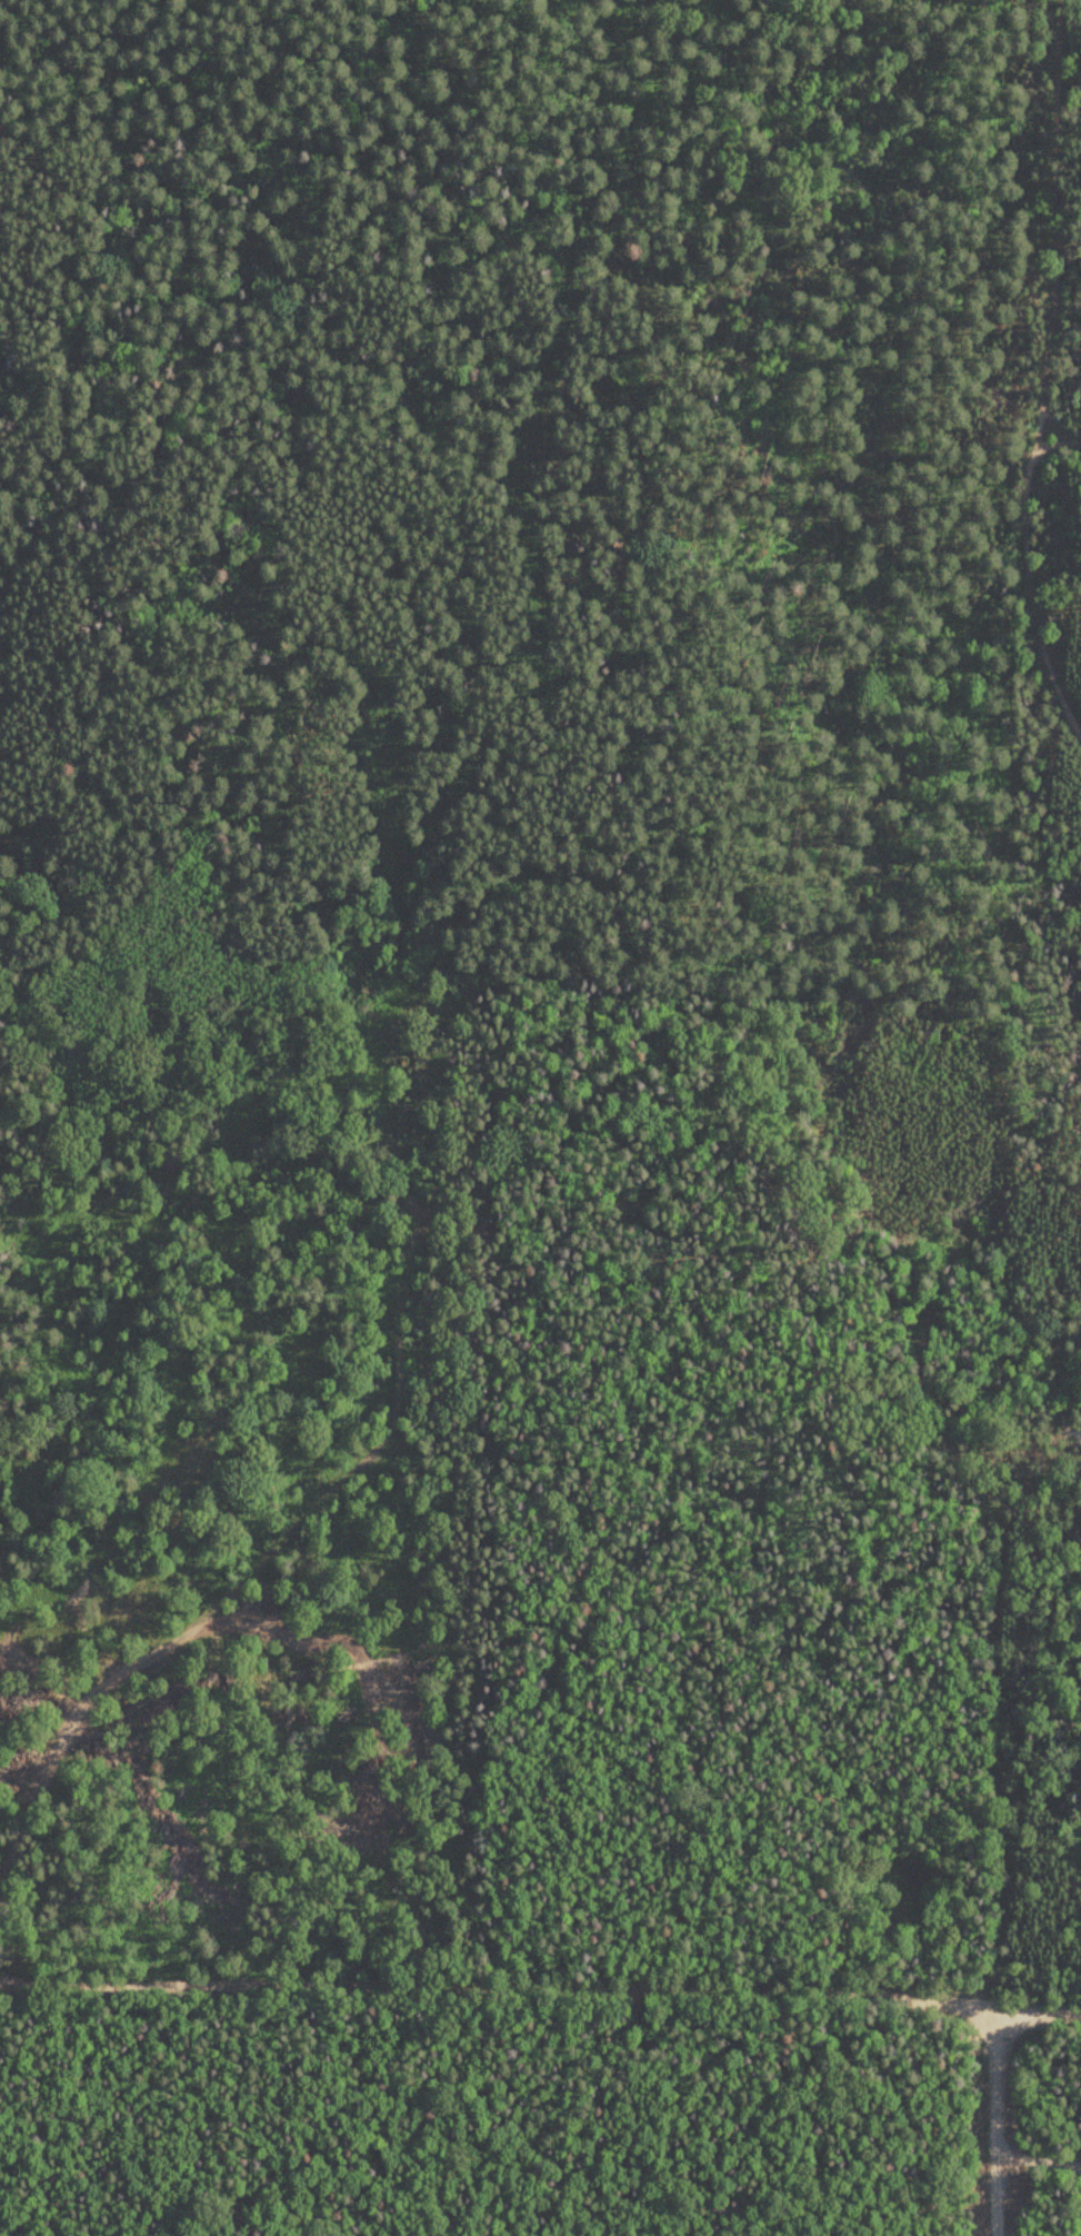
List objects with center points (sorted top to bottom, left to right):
road: (497, 1989)
road: (1037, 2011)
park: (541, 2100)
road: (993, 2124)
road: (1038, 2156)

